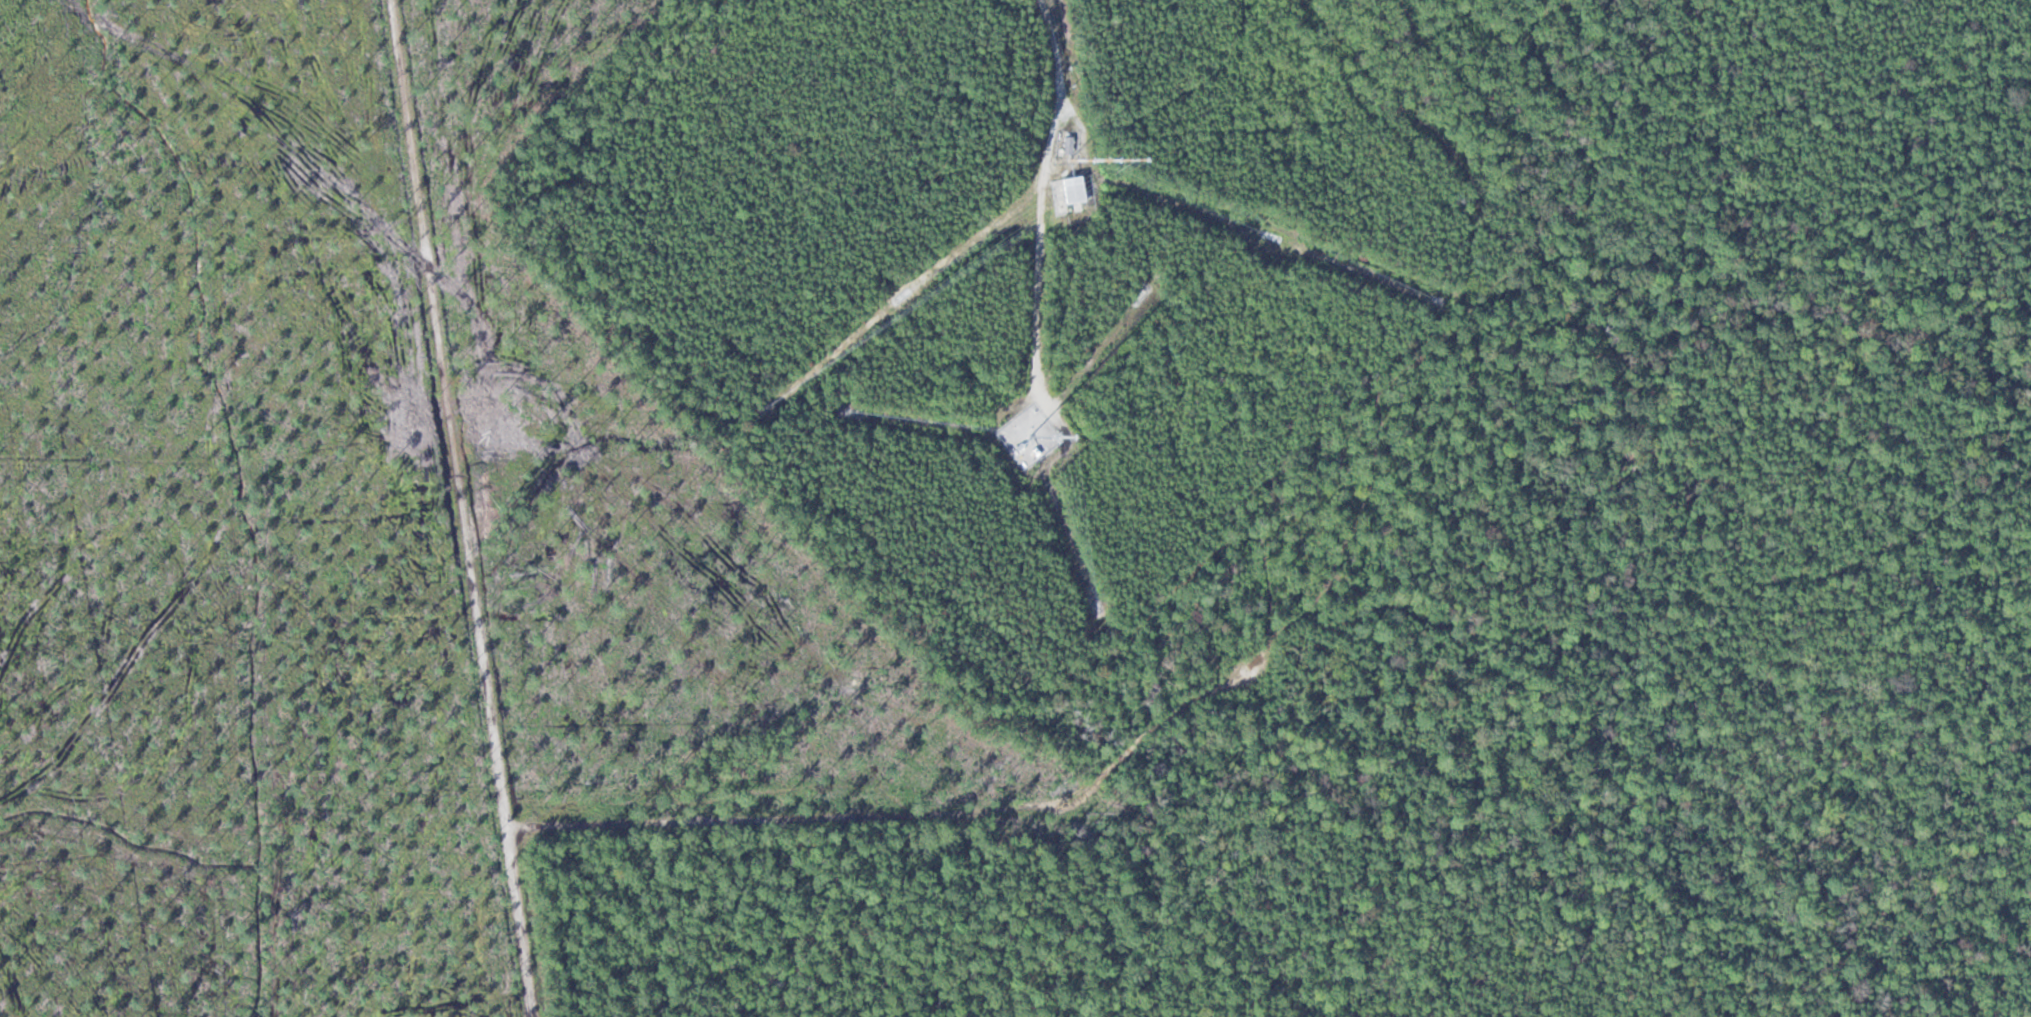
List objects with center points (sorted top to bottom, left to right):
building: (1068, 144)
building: (1072, 189)
road: (492, 508)

